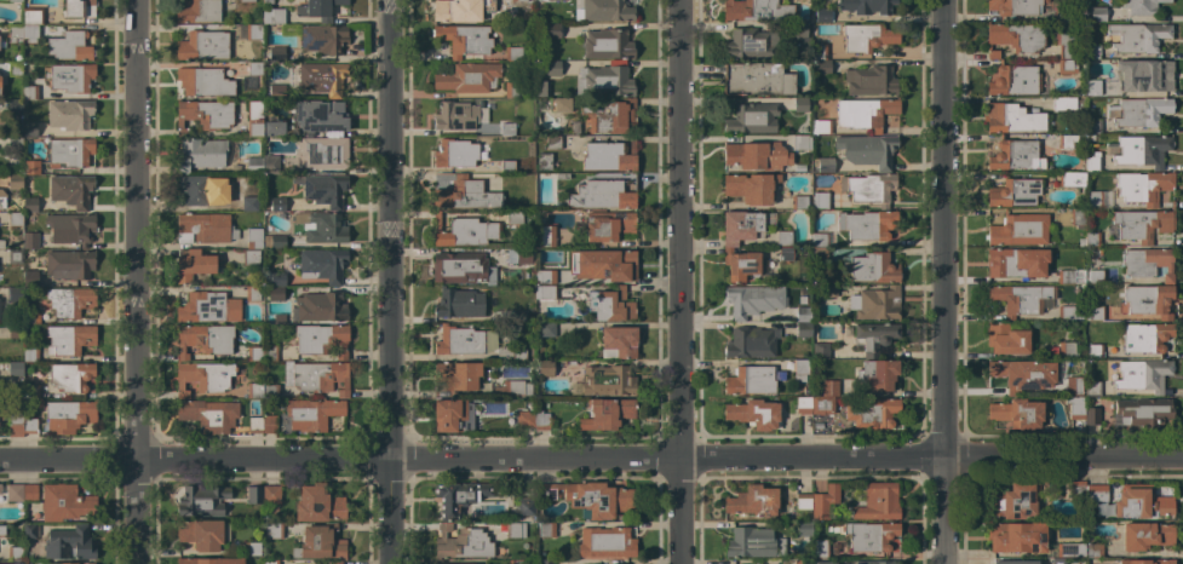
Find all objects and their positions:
building: (15, 0)
building: (522, 0)
building: (247, 1)
building: (268, 1)
building: (866, 6)
building: (1015, 6)
building: (1142, 6)
building: (79, 7)
building: (317, 10)
building: (459, 10)
building: (199, 11)
building: (604, 11)
building: (756, 11)
building: (822, 15)
building: (1062, 15)
building: (1097, 15)
building: (274, 16)
building: (31, 23)
building: (552, 30)
building: (798, 30)
building: (253, 31)
building: (15, 34)
building: (320, 38)
building: (867, 38)
building: (1015, 38)
building: (1137, 38)
building: (463, 39)
building: (2, 42)
building: (607, 44)
building: (747, 44)
building: (202, 45)
building: (70, 46)
building: (1069, 47)
building: (819, 52)
building: (1092, 52)
building: (276, 53)
building: (512, 53)
building: (1066, 67)
building: (254, 68)
building: (552, 68)
building: (822, 68)
building: (15, 69)
building: (1144, 76)
building: (71, 77)
building: (318, 77)
building: (467, 77)
building: (756, 79)
building: (1015, 80)
building: (603, 81)
building: (869, 81)
building: (203, 82)
building: (1092, 87)
building: (541, 88)
building: (512, 90)
building: (29, 92)
building: (277, 92)
building: (1063, 103)
building: (558, 104)
building: (800, 104)
building: (15, 107)
building: (1142, 111)
building: (865, 113)
building: (69, 115)
building: (205, 115)
building: (320, 115)
building: (458, 115)
building: (609, 116)
building: (253, 117)
building: (1011, 117)
building: (751, 119)
building: (1092, 126)
building: (574, 127)
building: (821, 127)
building: (29, 128)
building: (506, 128)
building: (274, 130)
building: (1090, 137)
building: (1066, 140)
building: (552, 142)
building: (799, 143)
building: (15, 144)
building: (867, 150)
building: (1142, 150)
building: (69, 152)
building: (323, 152)
building: (200, 154)
building: (455, 154)
building: (608, 155)
building: (1015, 155)
building: (756, 156)
building: (1092, 161)
building: (544, 162)
building: (270, 163)
building: (823, 165)
building: (254, 166)
building: (507, 166)
building: (30, 167)
building: (799, 168)
building: (561, 175)
building: (1072, 179)
building: (13, 182)
building: (1143, 186)
building: (750, 188)
building: (868, 188)
building: (323, 189)
building: (70, 190)
building: (195, 190)
building: (1013, 192)
building: (603, 194)
building: (465, 195)
building: (2, 198)
building: (1093, 198)
building: (820, 201)
building: (799, 202)
building: (249, 203)
building: (30, 205)
building: (276, 205)
building: (513, 217)
building: (1078, 218)
building: (15, 219)
building: (1142, 224)
building: (608, 225)
building: (867, 225)
building: (321, 226)
building: (741, 226)
building: (203, 228)
building: (70, 229)
road: (394, 229)
building: (1018, 229)
road: (132, 230)
road: (677, 230)
road: (944, 230)
building: (463, 231)
building: (546, 236)
building: (783, 237)
building: (253, 238)
building: (1092, 238)
building: (30, 240)
building: (819, 240)
building: (274, 242)
building: (1081, 242)
building: (1, 243)
building: (785, 254)
building: (15, 255)
building: (251, 257)
building: (524, 257)
building: (1015, 263)
building: (1147, 263)
building: (69, 264)
building: (193, 264)
building: (609, 264)
building: (741, 264)
building: (322, 265)
building: (873, 267)
building: (461, 269)
building: (544, 276)
building: (1069, 276)
building: (1095, 276)
building: (30, 277)
building: (277, 278)
building: (828, 290)
building: (545, 292)
building: (275, 293)
building: (252, 294)
building: (15, 295)
building: (1020, 299)
building: (753, 300)
building: (1147, 300)
building: (69, 301)
building: (875, 303)
building: (459, 304)
building: (610, 306)
building: (208, 307)
building: (318, 307)
building: (1064, 312)
building: (1099, 313)
building: (803, 315)
building: (518, 316)
building: (31, 317)
building: (1091, 328)
building: (547, 329)
building: (803, 329)
building: (15, 330)
building: (873, 336)
building: (1145, 336)
building: (69, 339)
building: (205, 339)
building: (321, 339)
building: (1006, 339)
building: (464, 340)
building: (619, 343)
building: (751, 343)
building: (1068, 350)
building: (820, 351)
building: (1095, 351)
building: (270, 352)
building: (254, 353)
building: (510, 353)
building: (30, 355)
building: (800, 367)
building: (15, 368)
building: (545, 368)
building: (877, 374)
building: (1022, 374)
building: (1138, 374)
building: (456, 375)
building: (71, 376)
building: (203, 376)
building: (316, 376)
building: (607, 380)
building: (750, 380)
building: (1074, 385)
building: (512, 387)
building: (829, 387)
building: (1092, 389)
building: (254, 390)
building: (31, 391)
building: (271, 391)
building: (1166, 391)
building: (803, 404)
building: (822, 405)
building: (1075, 407)
building: (607, 413)
building: (871, 413)
building: (1017, 413)
building: (1141, 413)
building: (312, 414)
building: (754, 414)
building: (68, 415)
building: (208, 415)
building: (452, 415)
building: (1092, 416)
building: (519, 419)
building: (540, 420)
building: (16, 424)
building: (270, 424)
building: (254, 425)
building: (29, 426)
road: (591, 460)
building: (0, 489)
building: (1076, 489)
building: (15, 493)
building: (30, 493)
building: (272, 493)
building: (254, 495)
building: (1095, 496)
building: (458, 497)
building: (590, 497)
building: (201, 501)
building: (753, 501)
building: (803, 501)
building: (1013, 501)
building: (1143, 501)
building: (825, 502)
building: (878, 502)
building: (65, 503)
building: (317, 503)
building: (523, 507)
road: (395, 511)
road: (133, 512)
road: (677, 512)
road: (946, 512)
building: (803, 528)
building: (2, 530)
building: (30, 530)
building: (274, 530)
building: (515, 530)
building: (546, 530)
building: (201, 534)
building: (1145, 535)
building: (869, 536)
building: (1017, 537)
building: (461, 542)
building: (605, 542)
building: (69, 543)
building: (320, 543)
building: (753, 543)
building: (252, 548)
building: (820, 548)
building: (837, 548)
building: (1070, 549)
building: (1093, 551)
building: (15, 553)
building: (209, 560)
building: (1057, 560)
building: (270, 562)
building: (337, 562)
building: (515, 562)
building: (545, 562)
building: (562, 562)
building: (756, 562)
building: (802, 562)
building: (1147, 562)
building: (77, 563)
building: (826, 563)
building: (875, 563)
building: (1015, 563)

